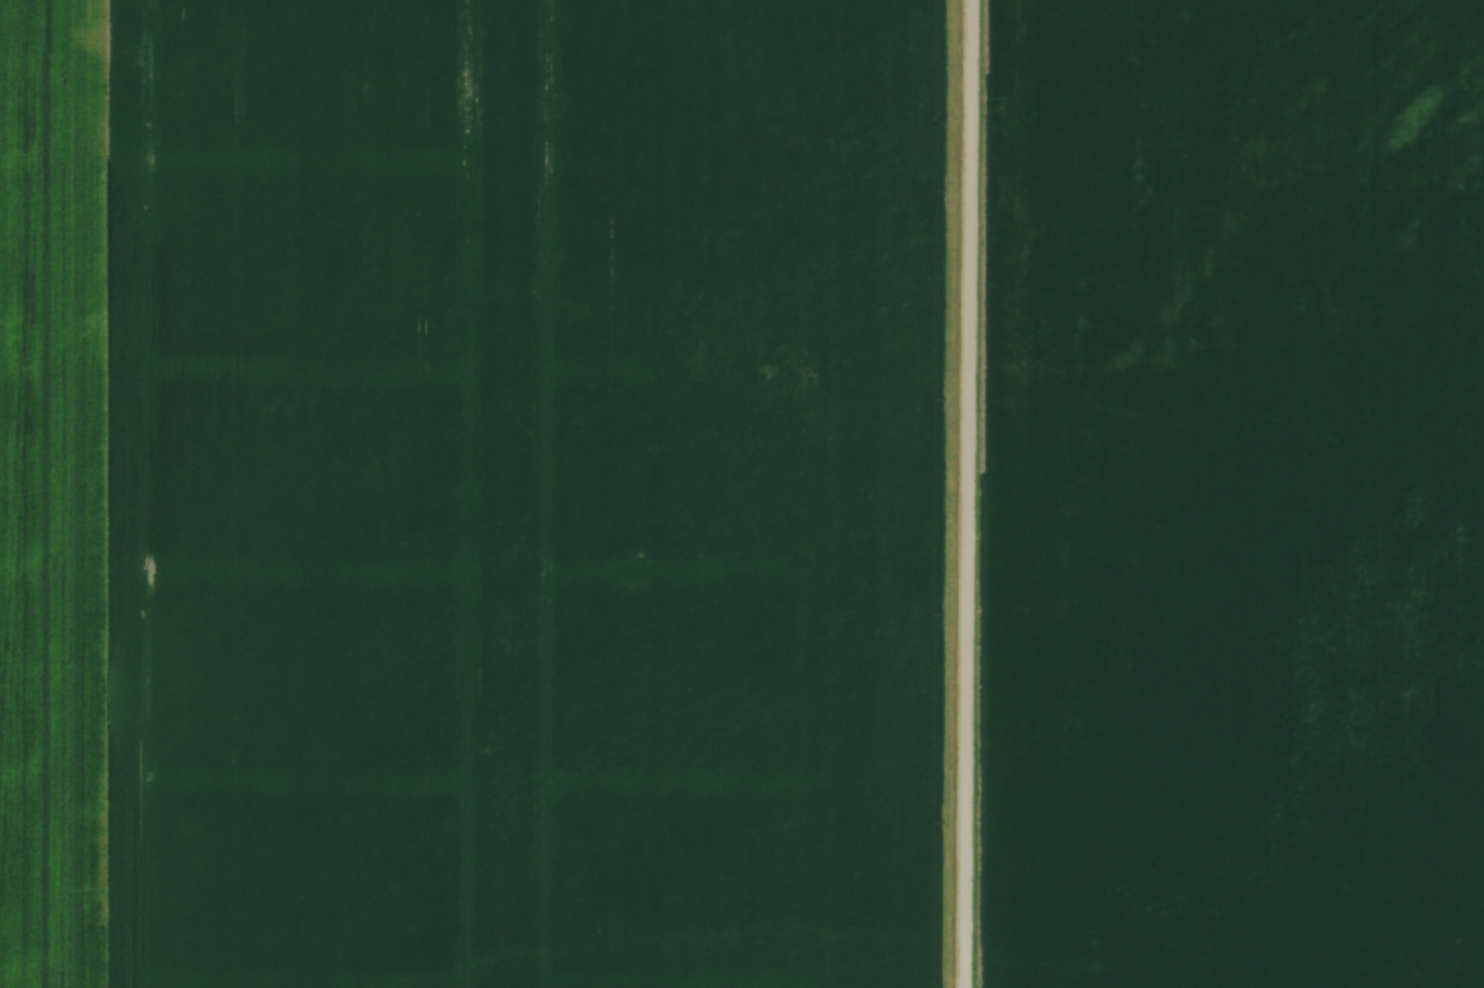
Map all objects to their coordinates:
road: (965, 493)

